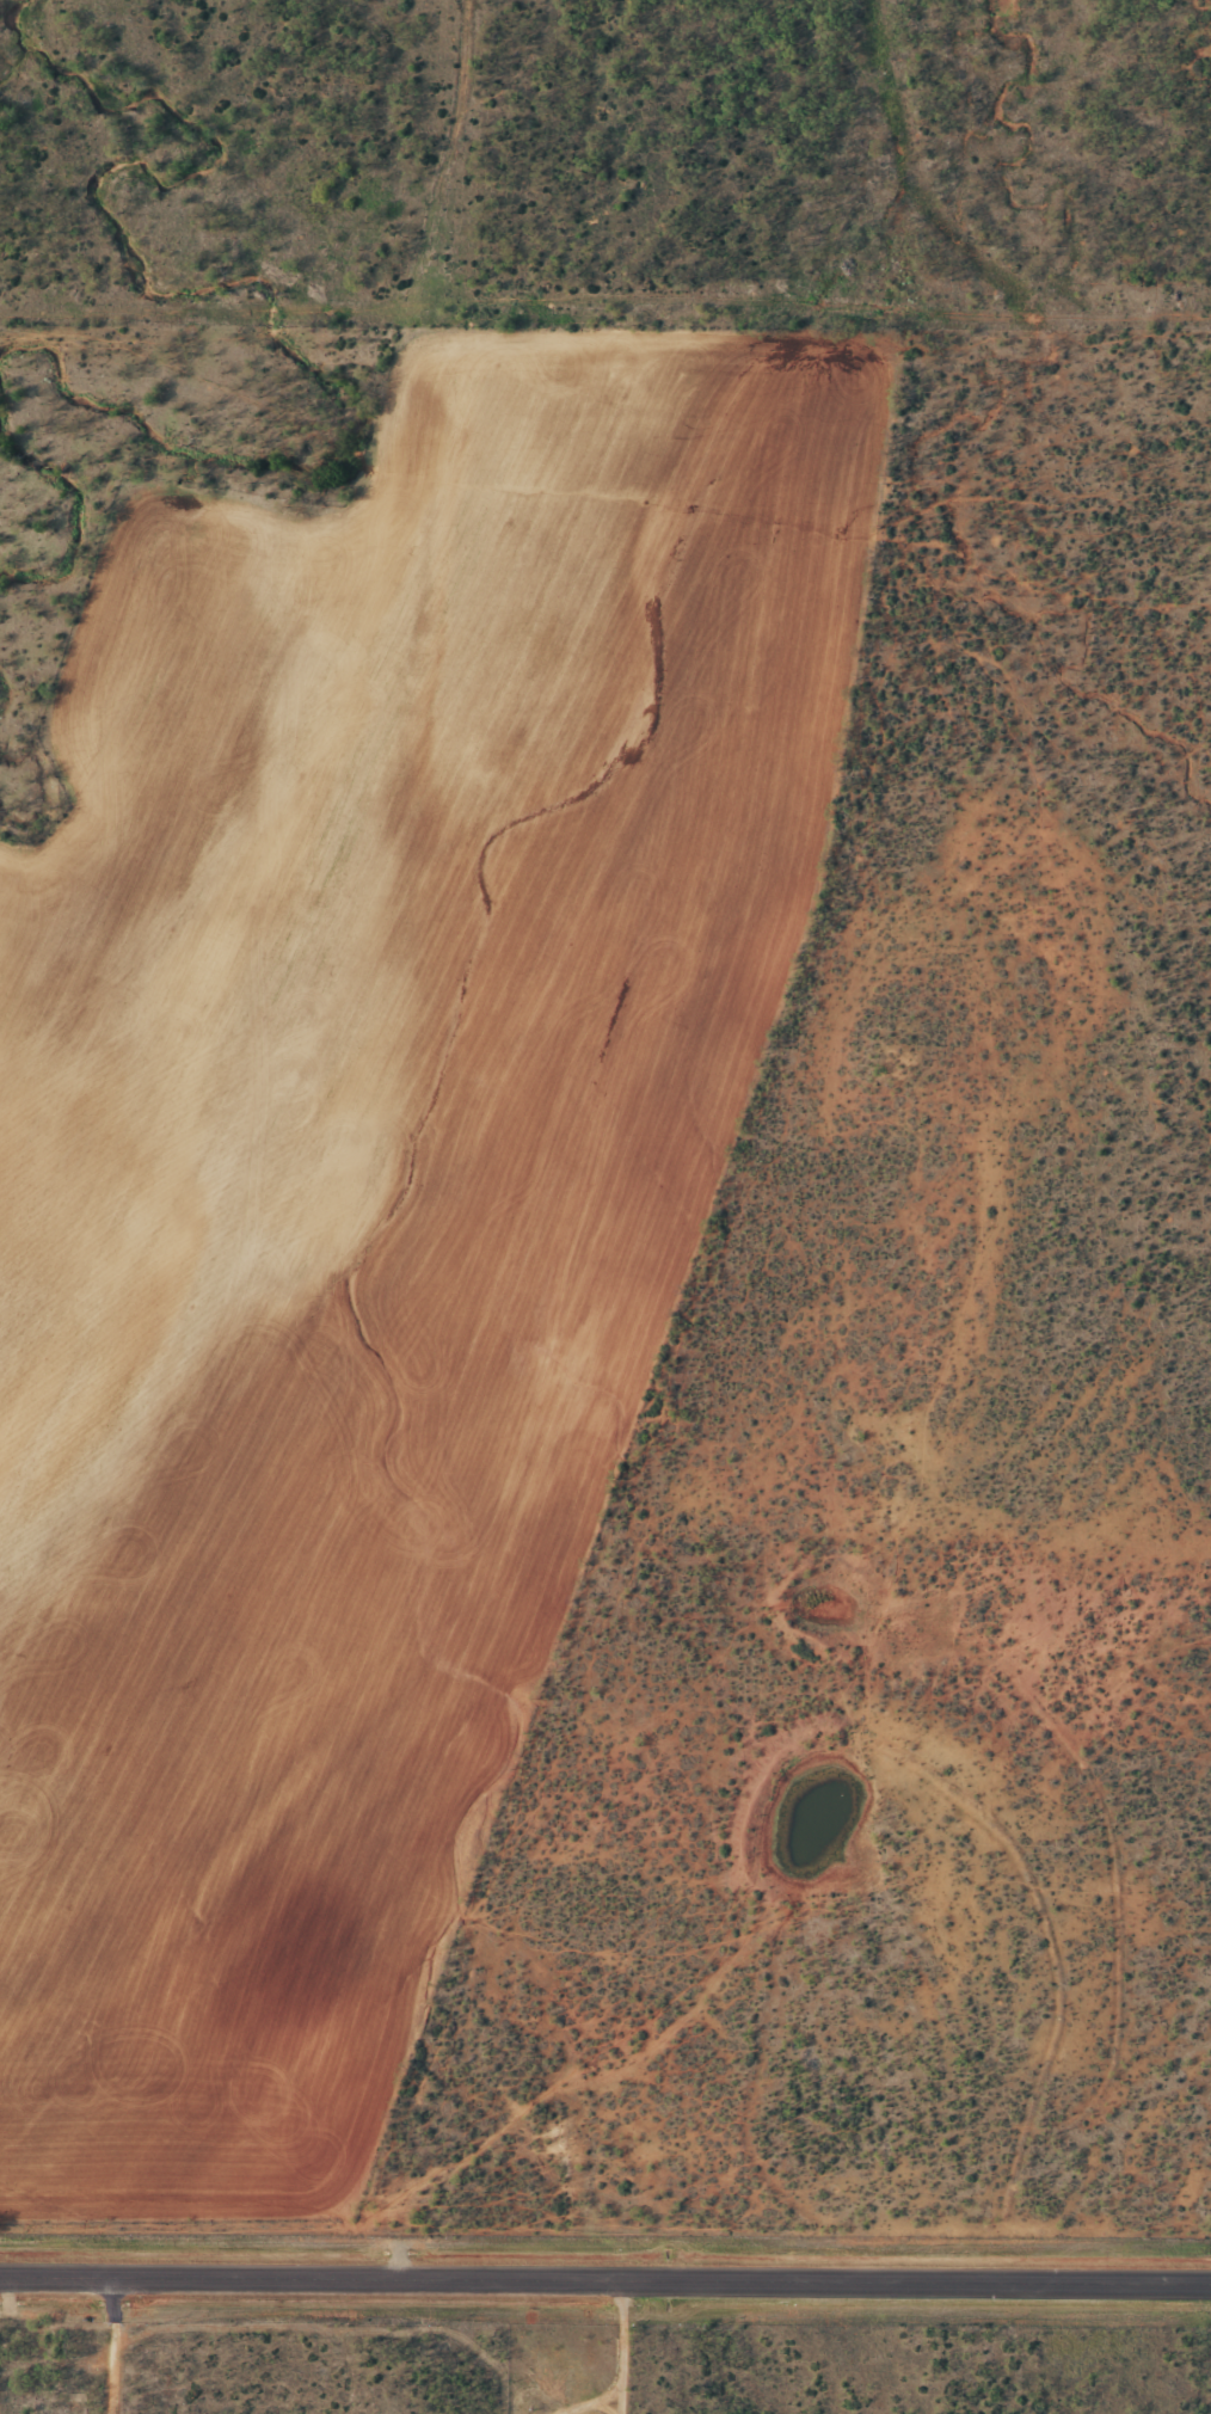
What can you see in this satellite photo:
road: (605, 2289)

